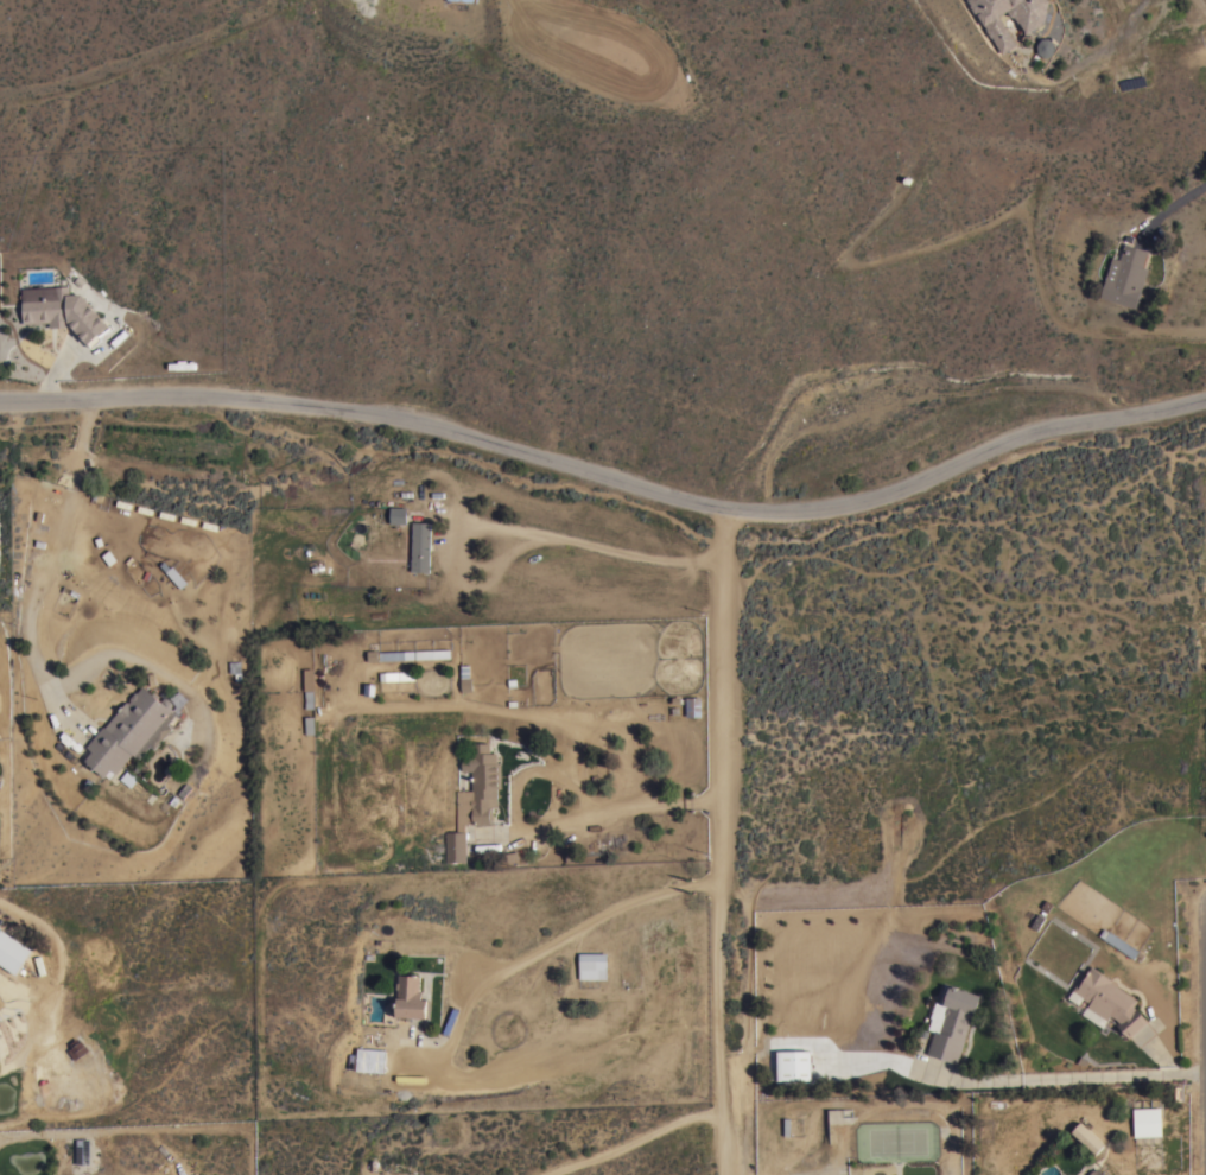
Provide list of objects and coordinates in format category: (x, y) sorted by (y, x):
building: (994, 25)
building: (1042, 47)
road: (1172, 210)
building: (1124, 275)
building: (62, 311)
road: (610, 478)
building: (398, 514)
building: (420, 545)
road: (594, 546)
road: (47, 571)
building: (433, 653)
building: (396, 654)
building: (236, 668)
building: (396, 674)
building: (309, 679)
building: (465, 679)
building: (309, 698)
building: (693, 707)
building: (131, 731)
building: (127, 777)
building: (474, 798)
road: (617, 811)
road: (728, 844)
building: (571, 853)
building: (508, 857)
road: (569, 938)
building: (1118, 942)
building: (12, 951)
building: (592, 965)
building: (410, 997)
building: (1110, 1001)
building: (953, 1022)
building: (76, 1049)
building: (367, 1060)
building: (795, 1065)
road: (1205, 1072)
road: (1080, 1073)
building: (1147, 1120)
building: (1087, 1137)
road: (635, 1139)
building: (83, 1151)
building: (1097, 1171)

